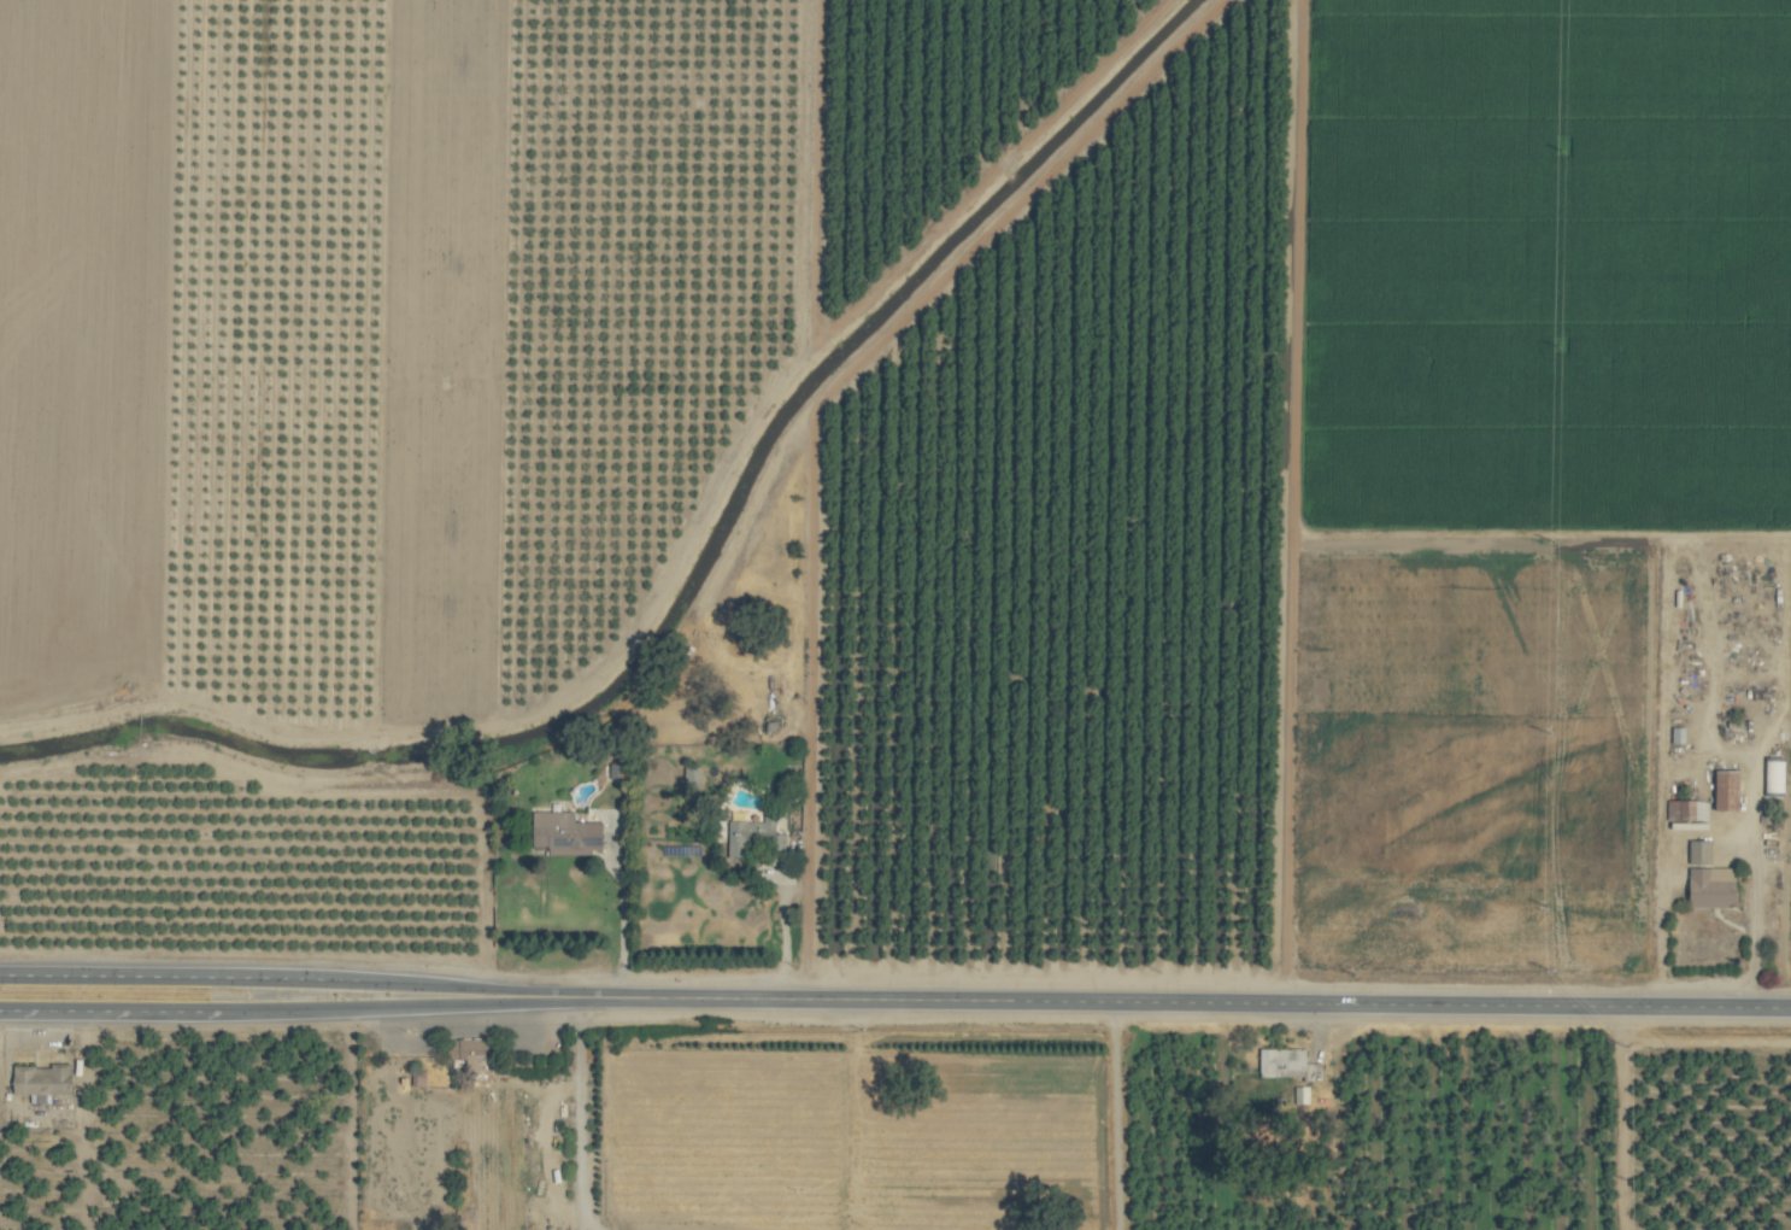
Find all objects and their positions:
crop: (895, 615)
building: (1728, 791)
building: (1689, 810)
road: (1709, 830)
building: (595, 837)
building: (754, 837)
building: (1711, 880)
road: (622, 913)
road: (785, 935)
road: (177, 976)
road: (418, 984)
road: (511, 991)
road: (592, 996)
road: (828, 998)
road: (510, 1000)
road: (1400, 1003)
road: (351, 1007)
road: (110, 1011)
building: (471, 1052)
building: (1282, 1061)
building: (43, 1079)
road: (580, 1112)
road: (1116, 1114)
road: (1621, 1118)

